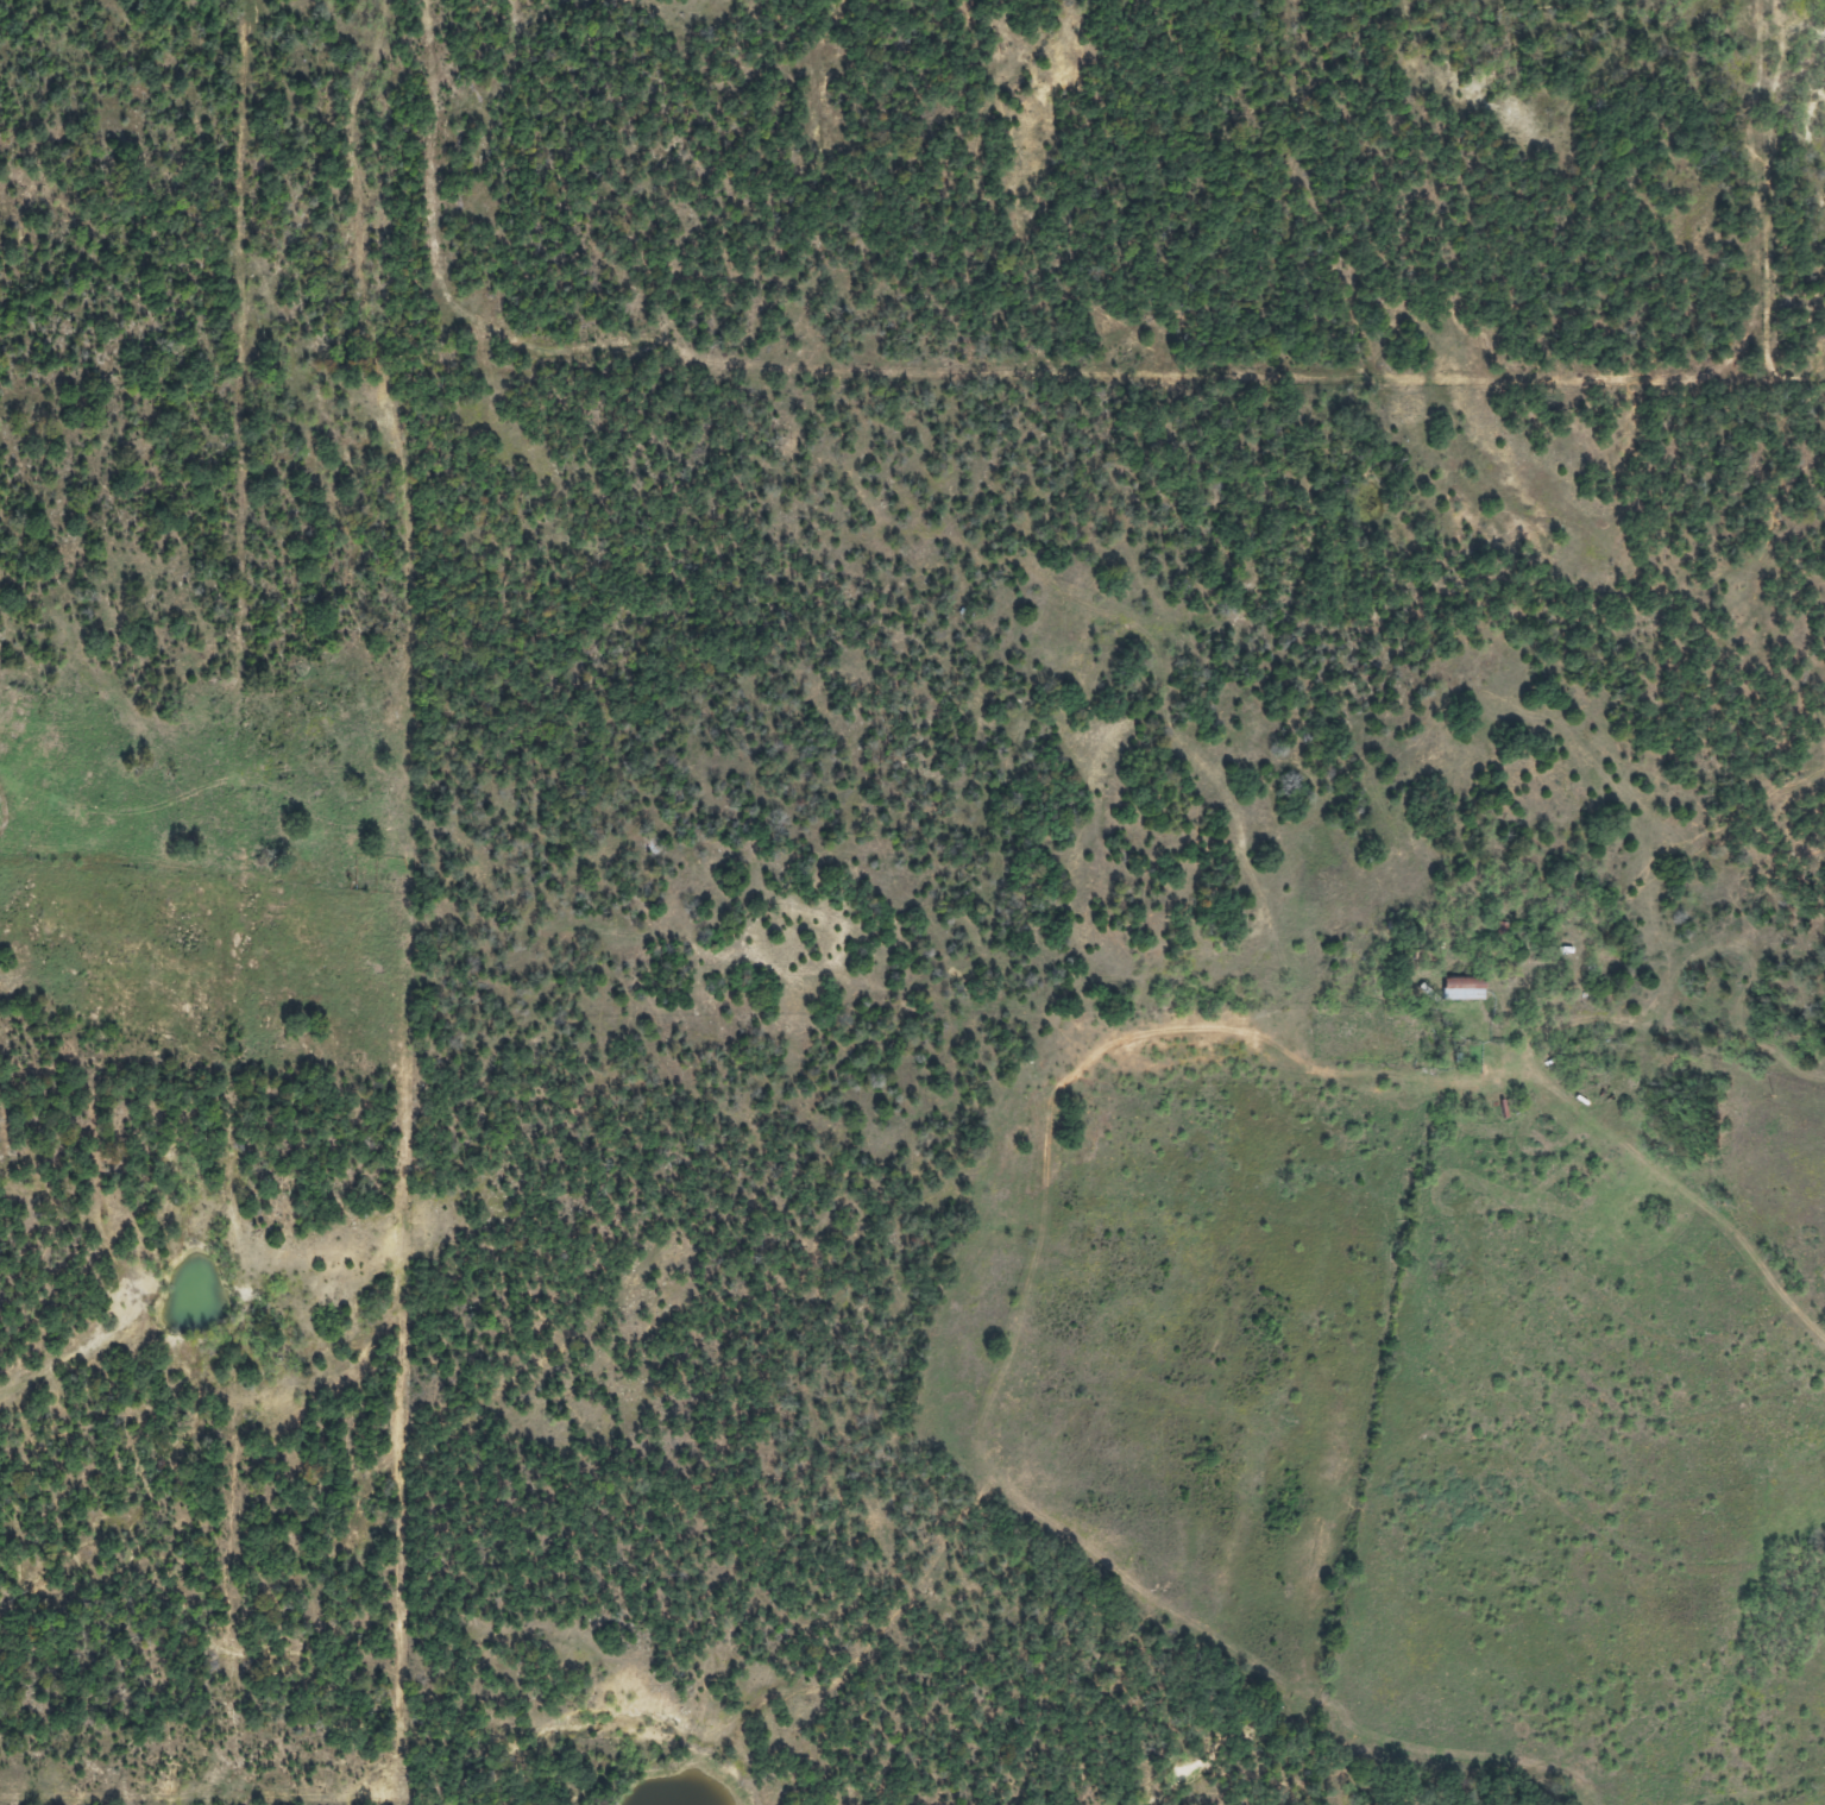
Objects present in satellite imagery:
building: (1458, 988)

